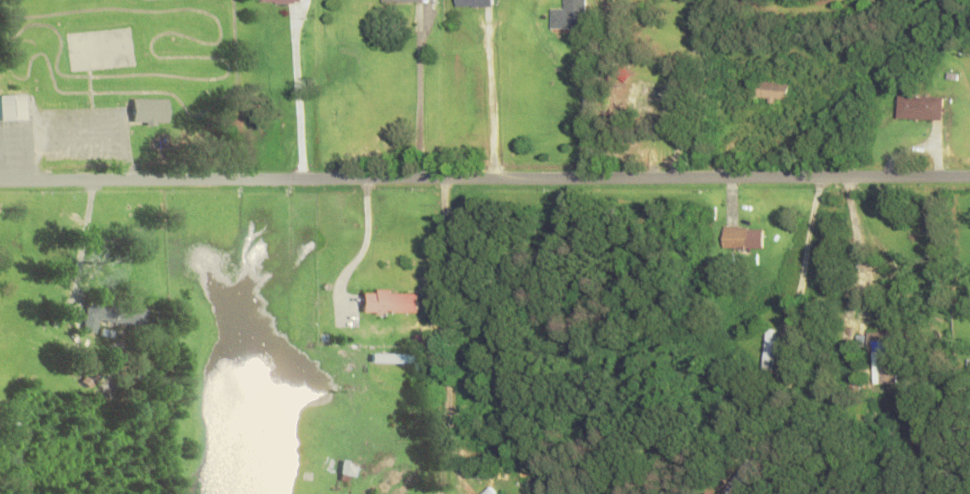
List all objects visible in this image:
building: (278, 2)
building: (402, 2)
building: (473, 4)
building: (569, 17)
building: (772, 93)
building: (654, 95)
building: (919, 109)
building: (10, 110)
building: (149, 113)
road: (484, 181)
building: (742, 240)
road: (364, 248)
building: (390, 304)
building: (113, 318)
road: (445, 338)
building: (887, 355)
building: (347, 471)

